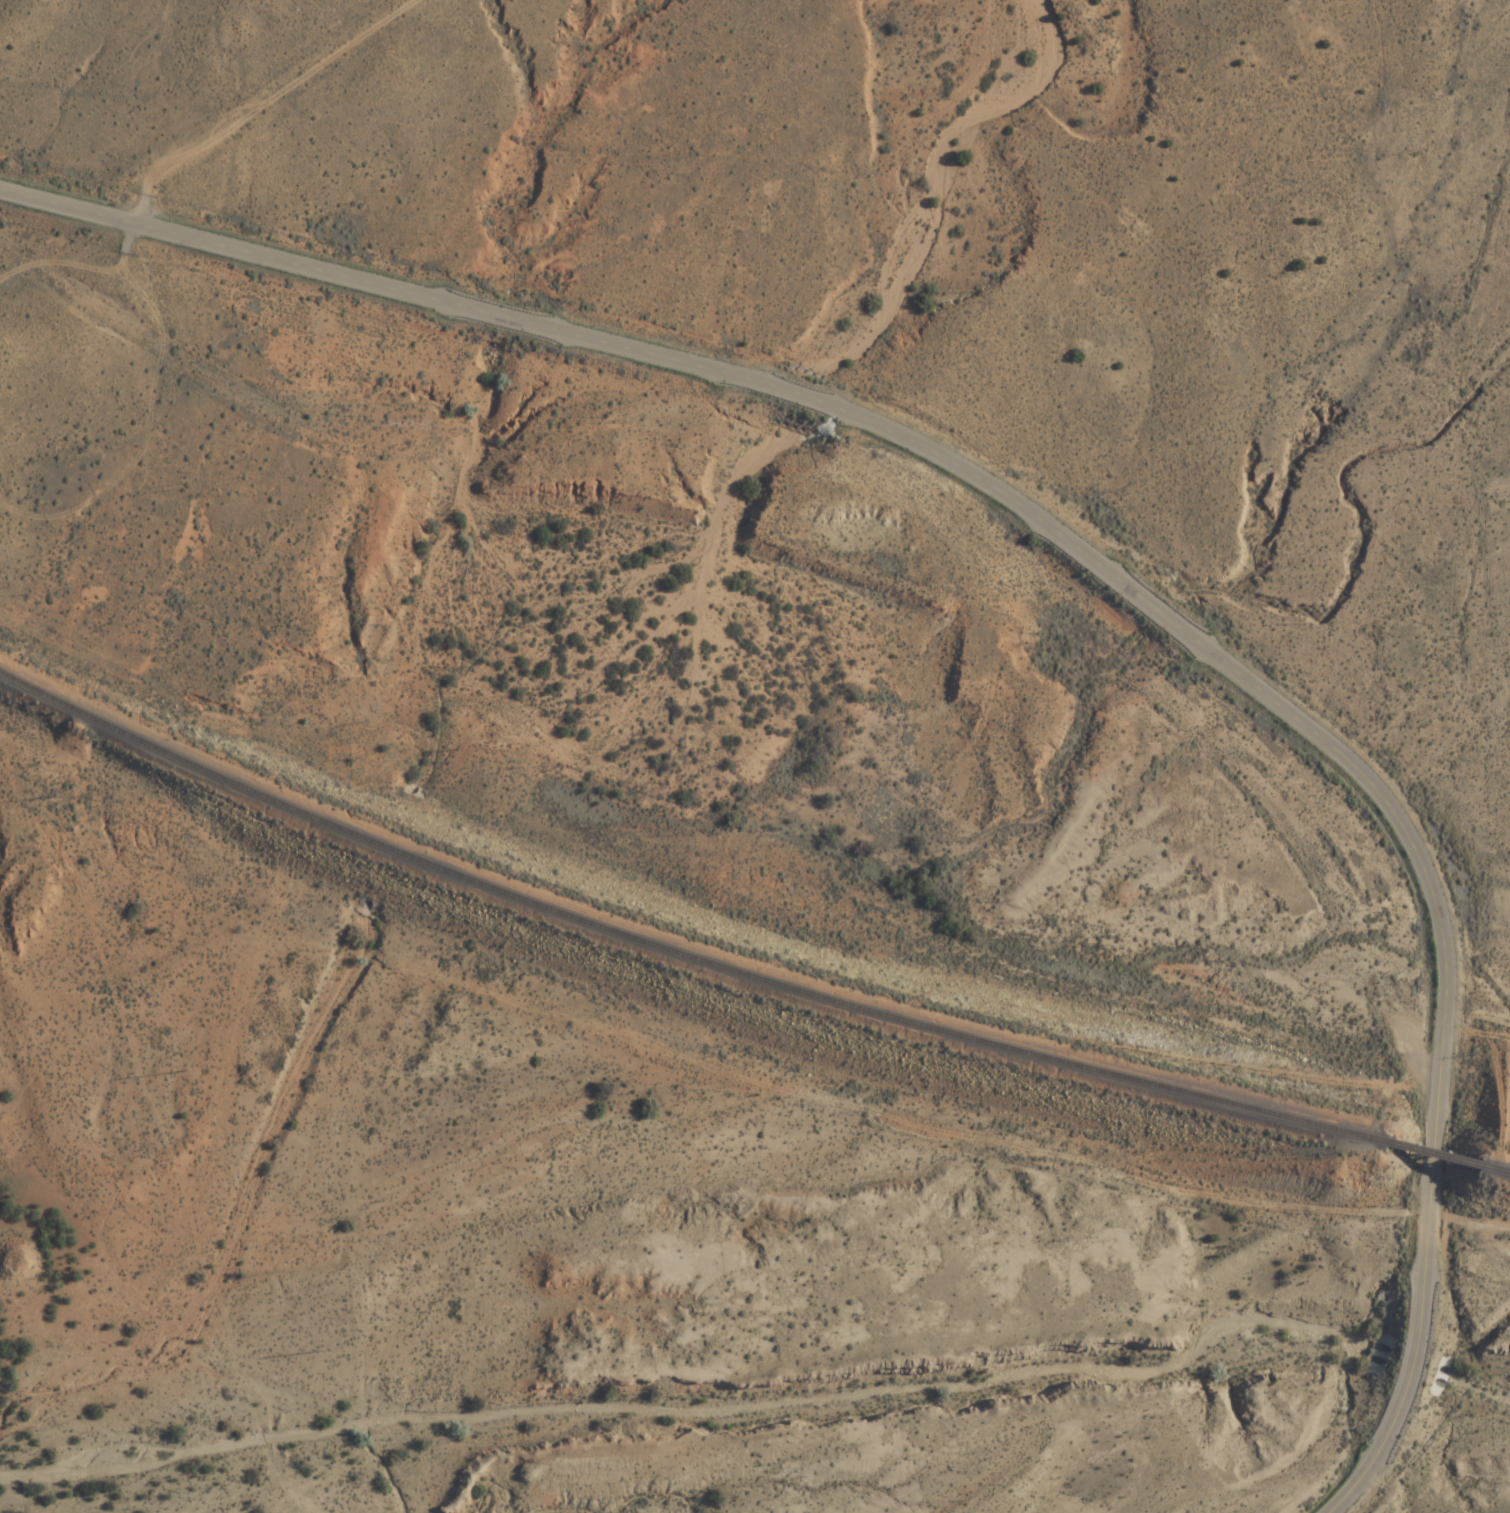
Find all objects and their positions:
road: (1082, 549)
railway: (679, 949)
railway: (1442, 1154)
railway: (1502, 1168)

